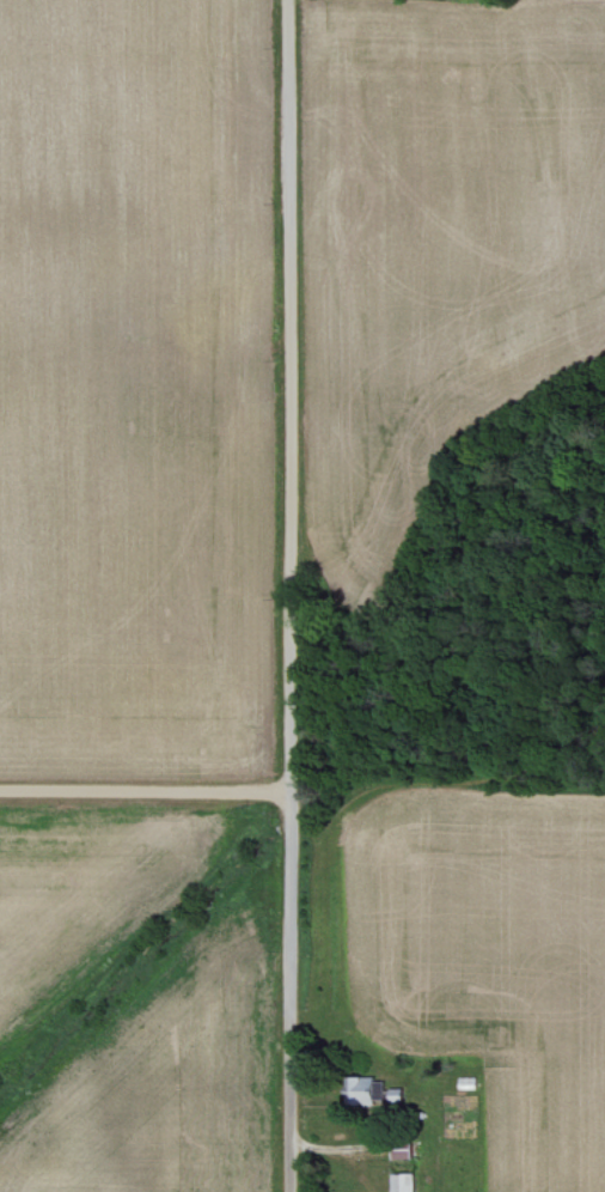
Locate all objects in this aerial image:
road: (293, 305)
road: (297, 701)
road: (98, 792)
road: (246, 792)
road: (294, 992)

